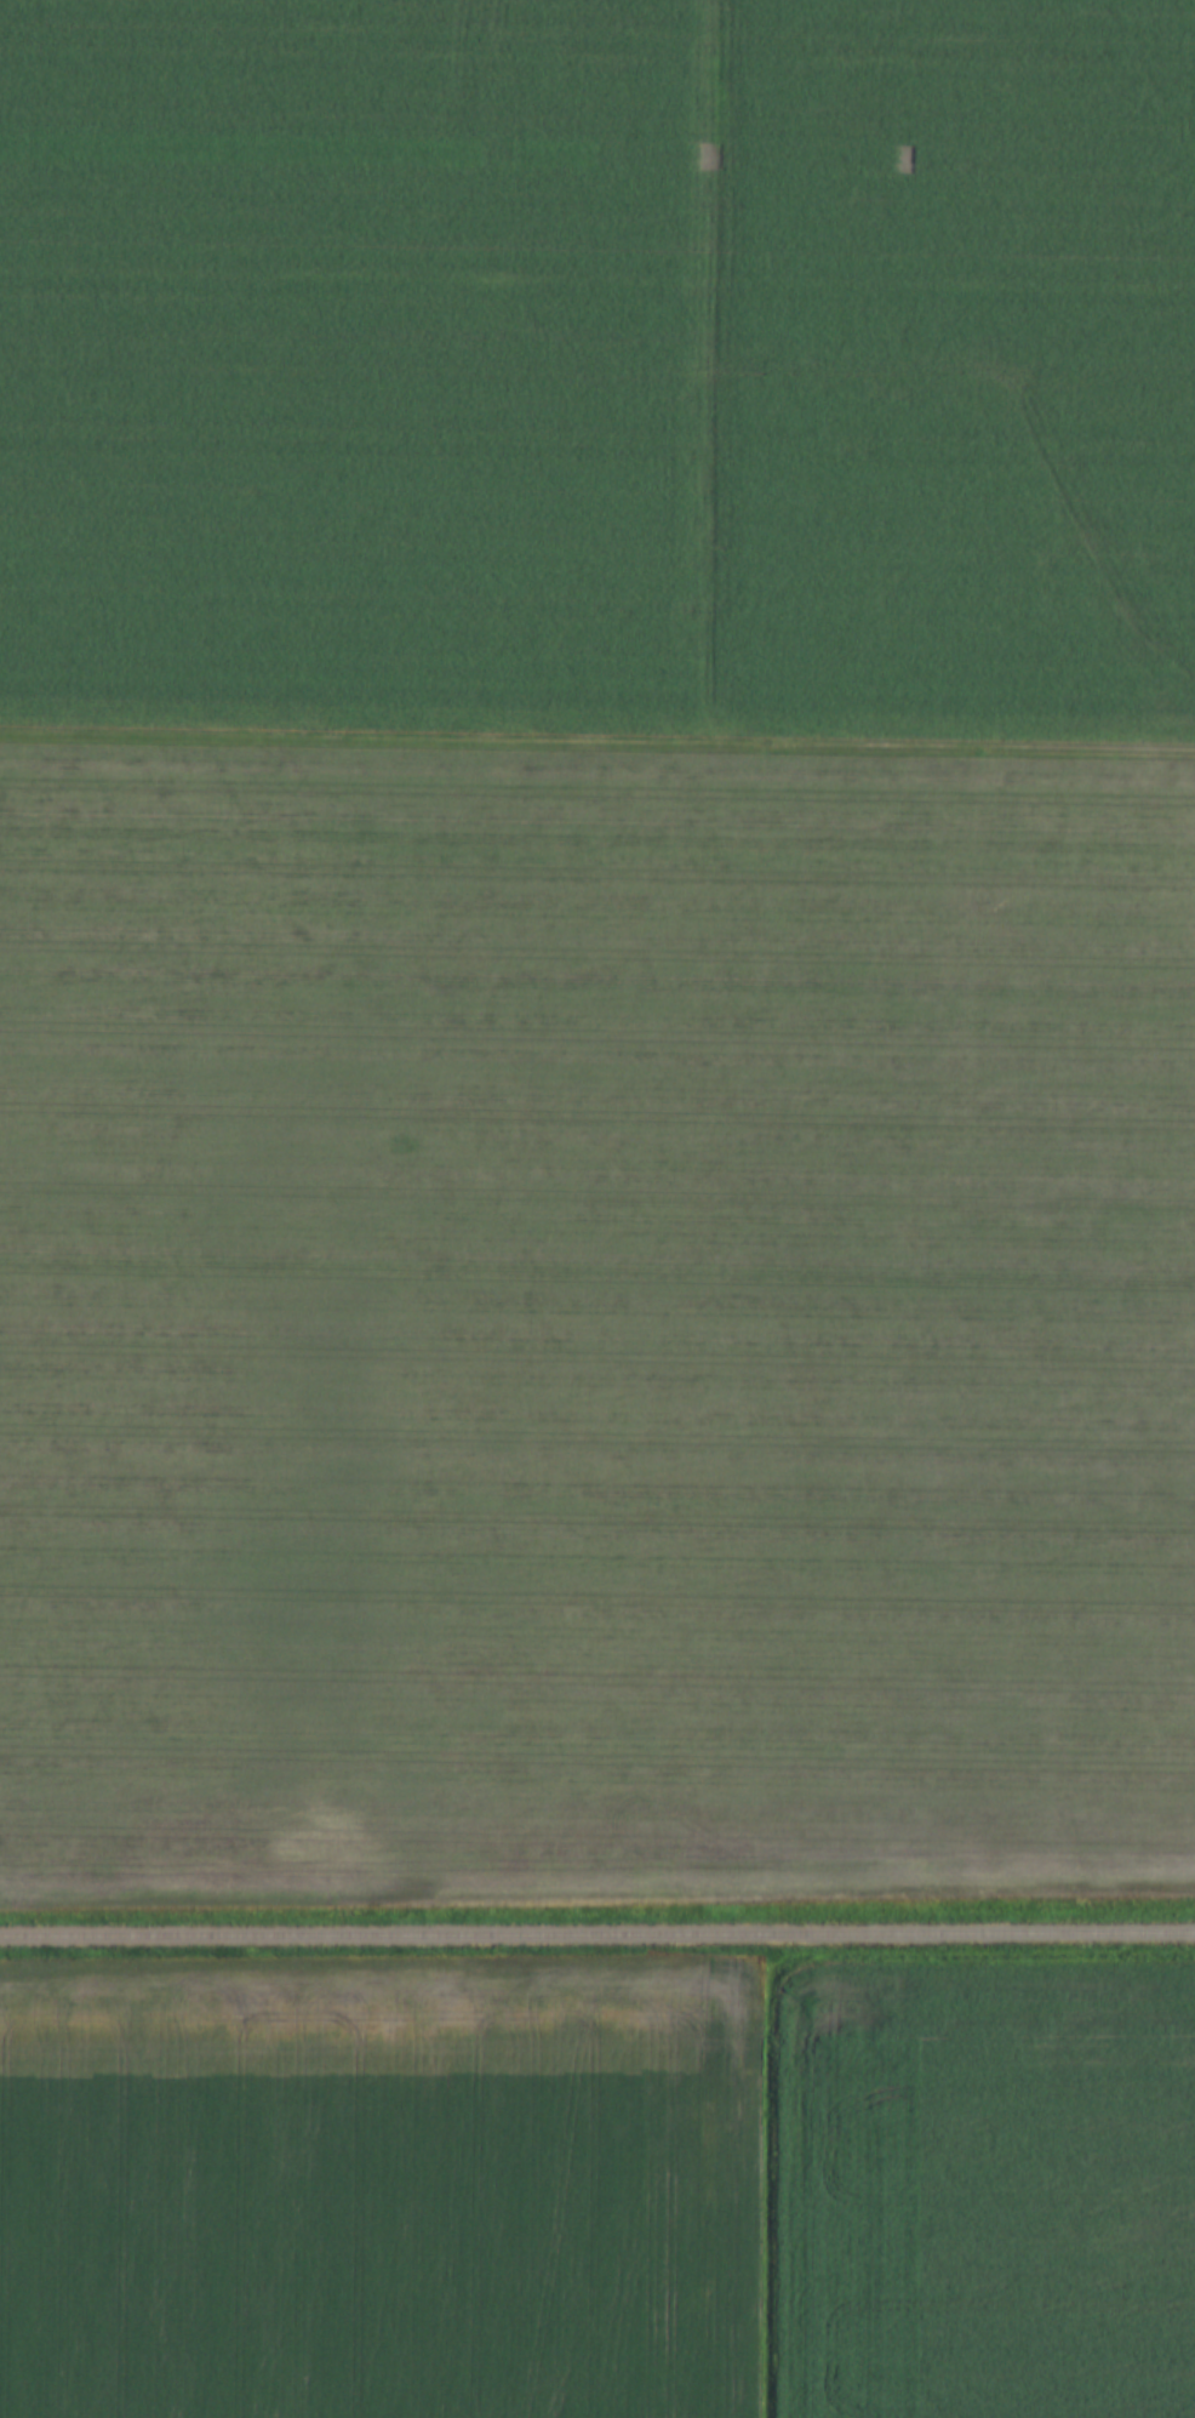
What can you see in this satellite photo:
railway: (597, 1934)

